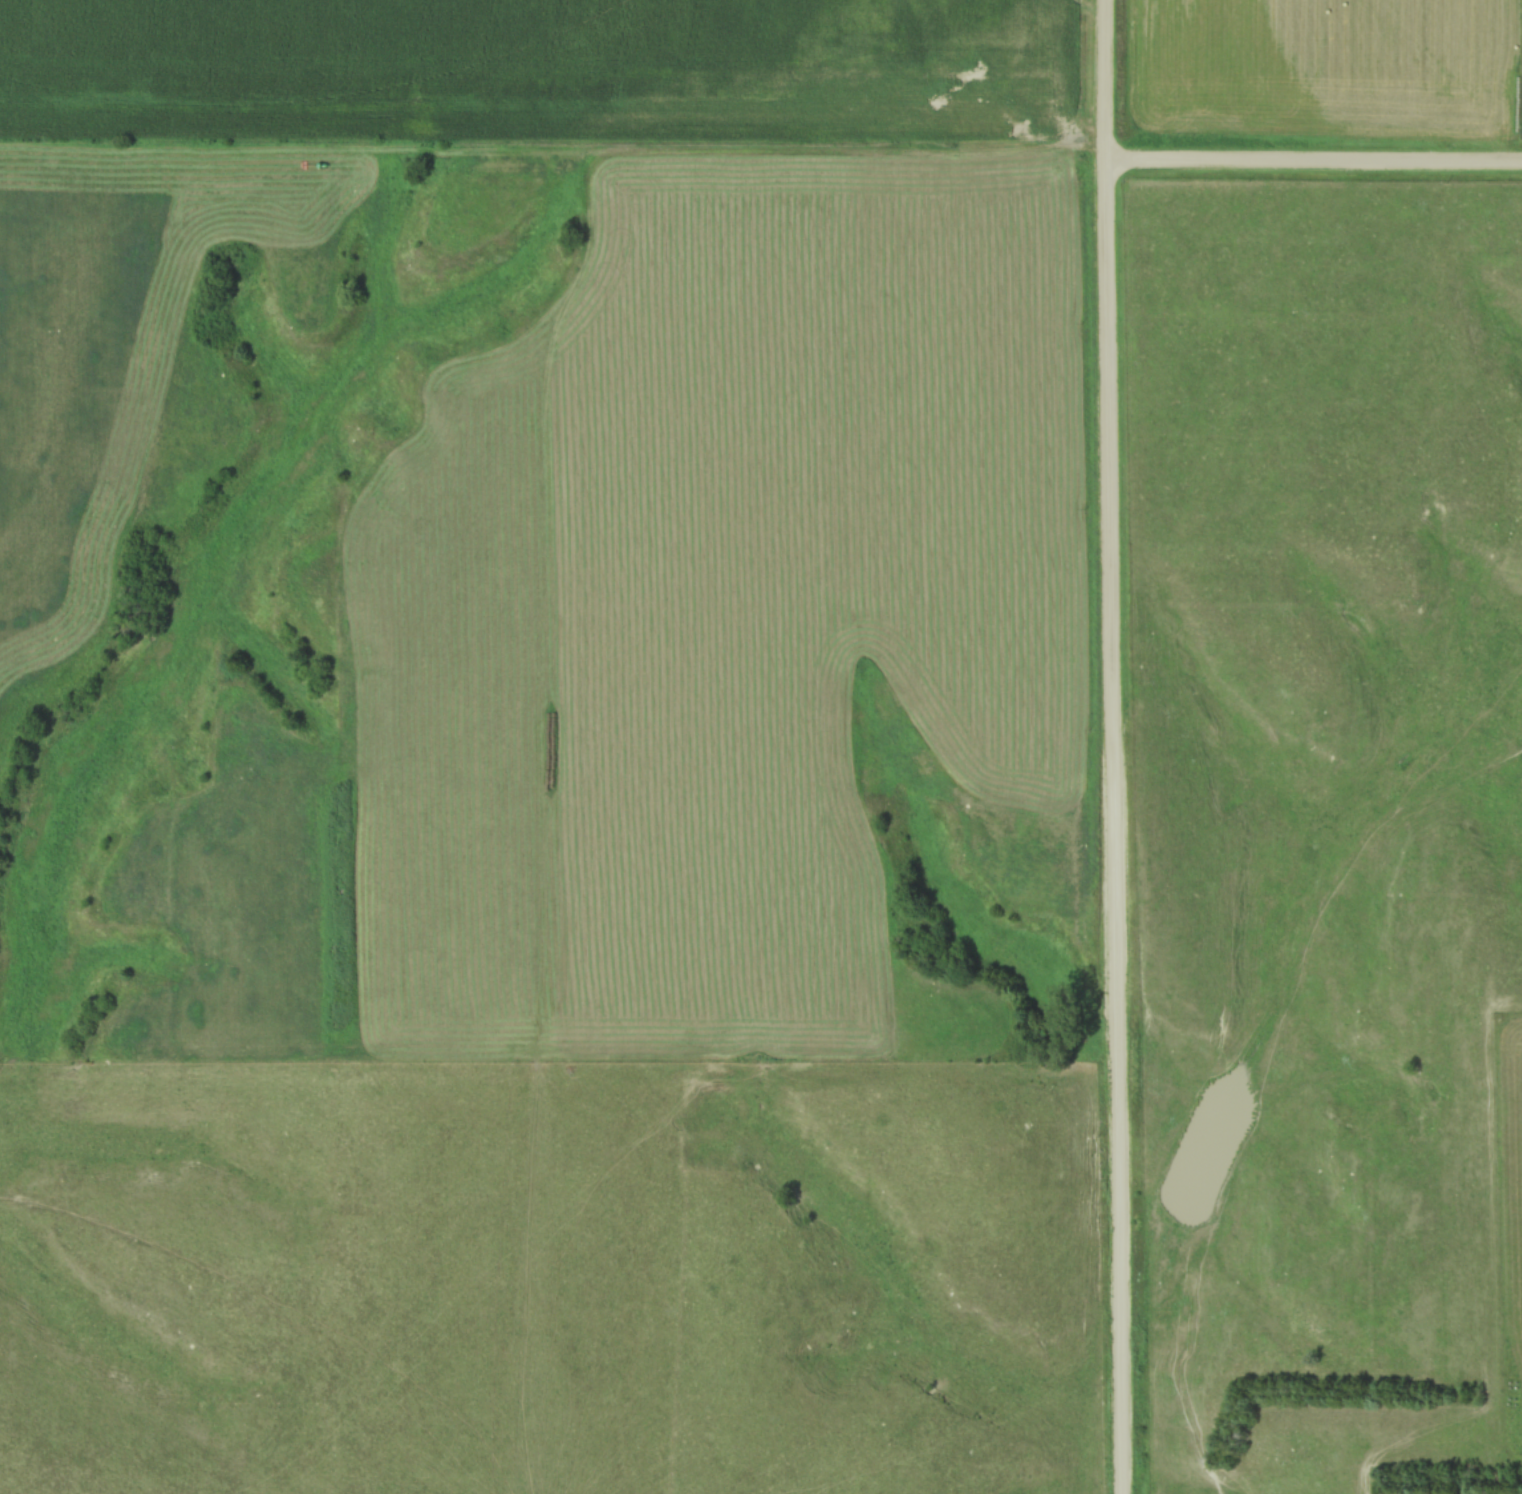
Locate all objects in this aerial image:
road: (1311, 163)
road: (1109, 747)

